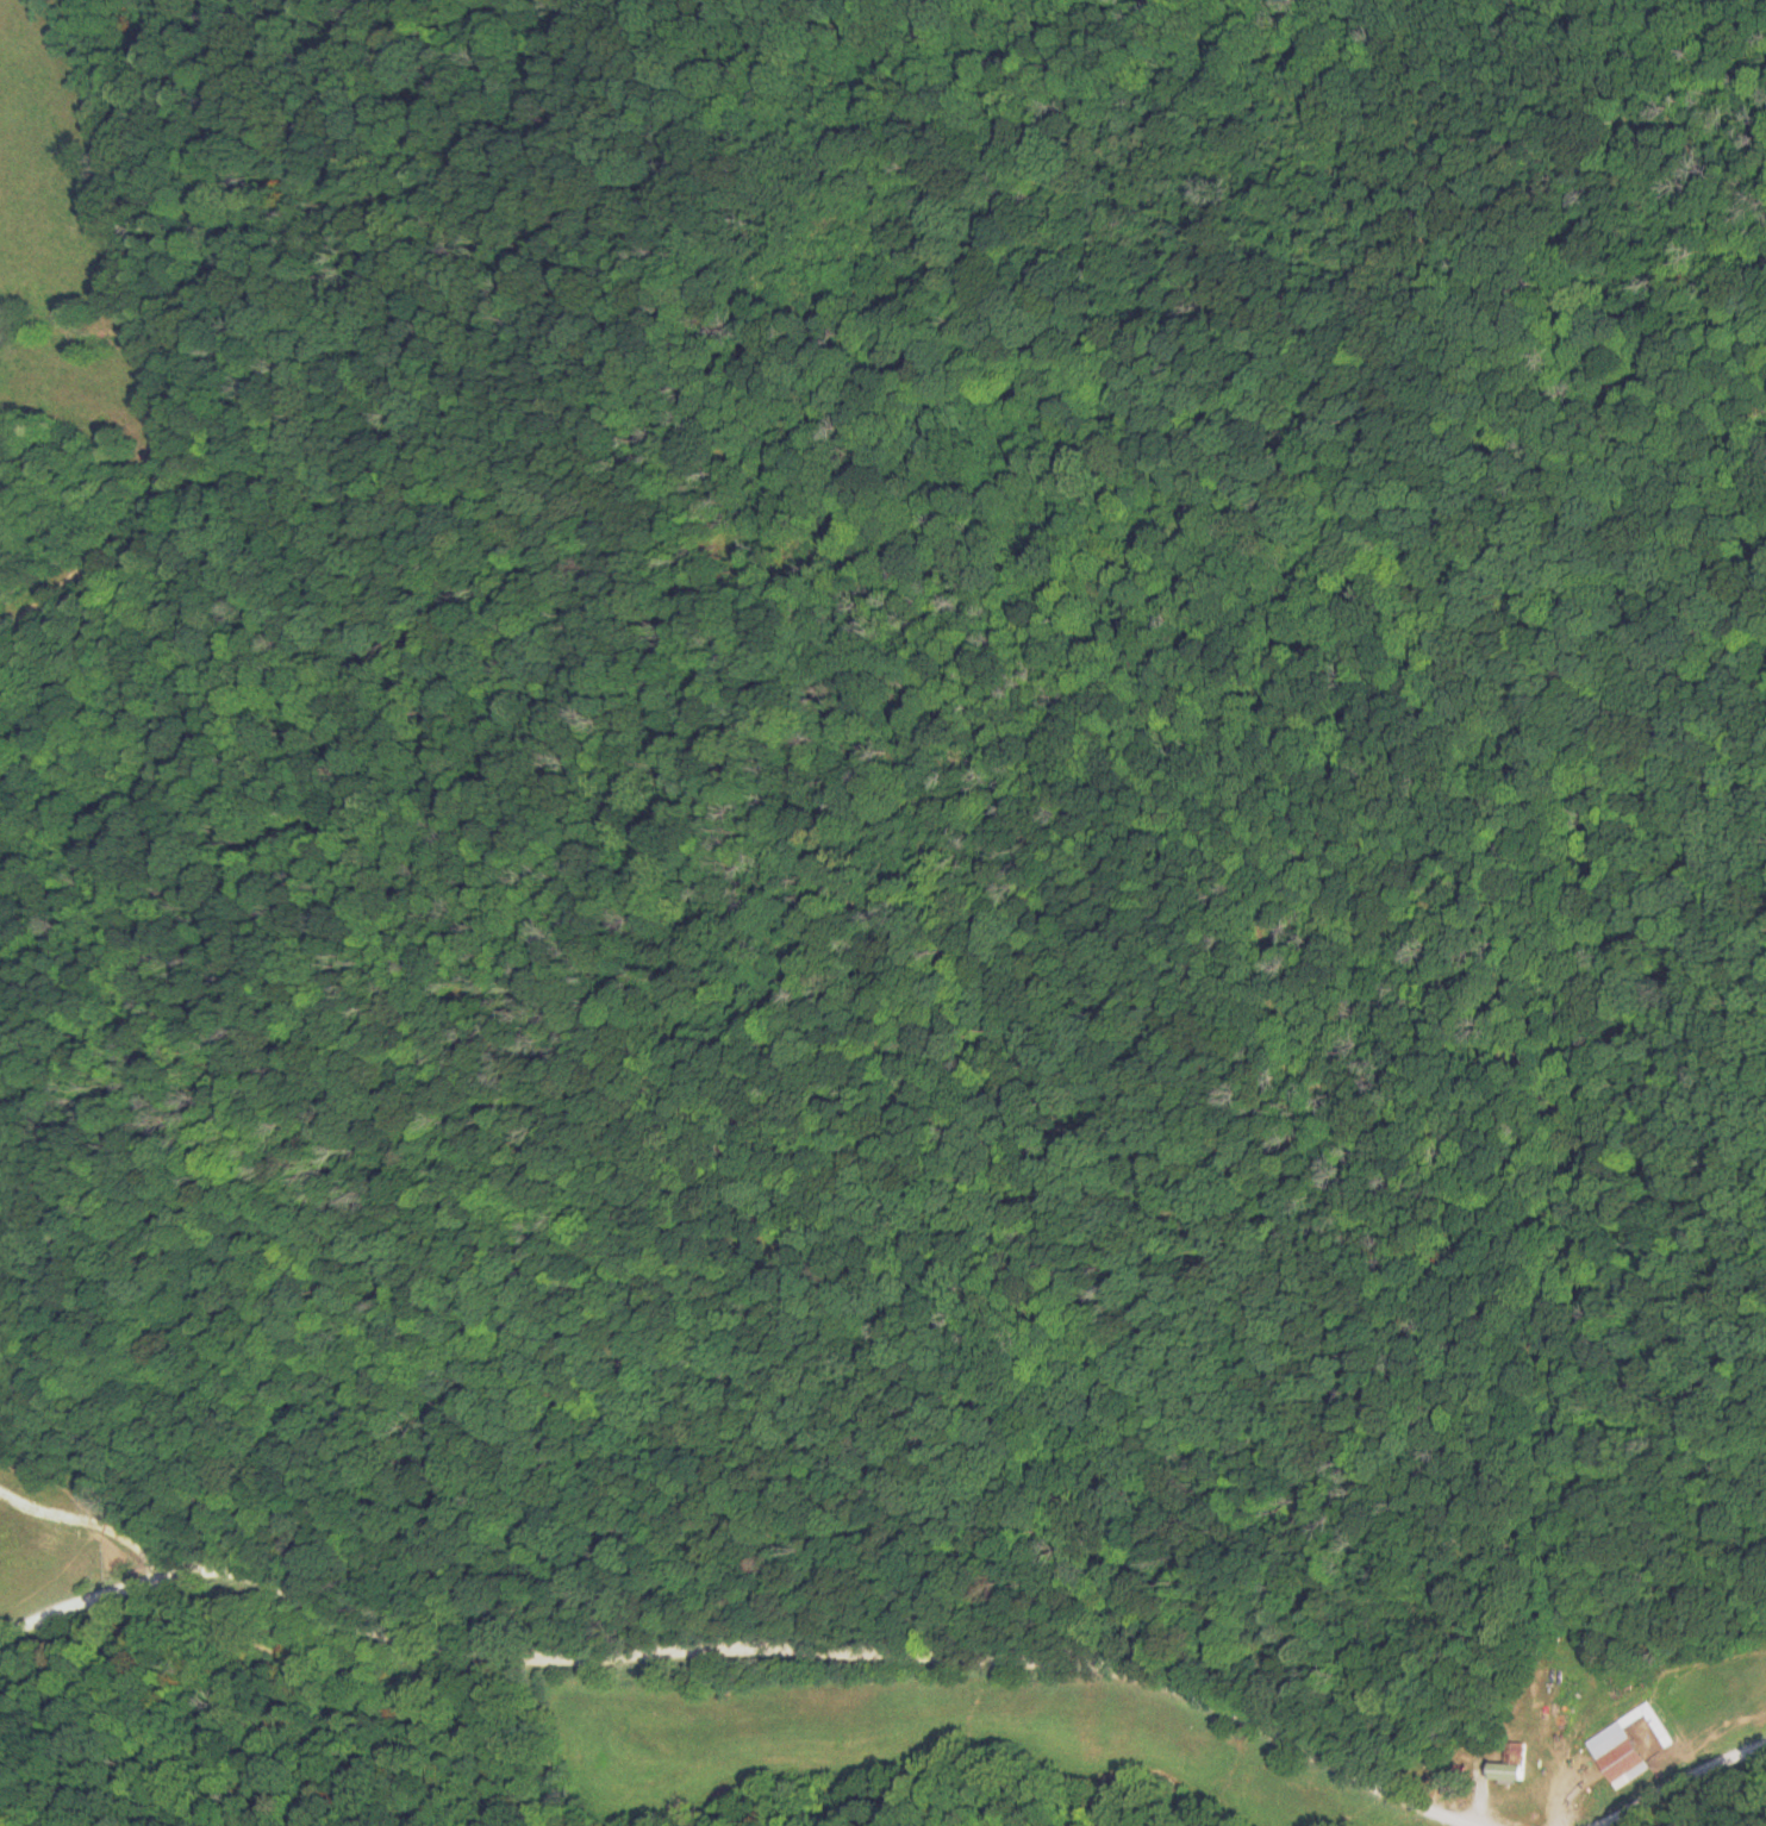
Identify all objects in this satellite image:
road: (891, 1575)
building: (1629, 1745)
building: (1512, 1770)

